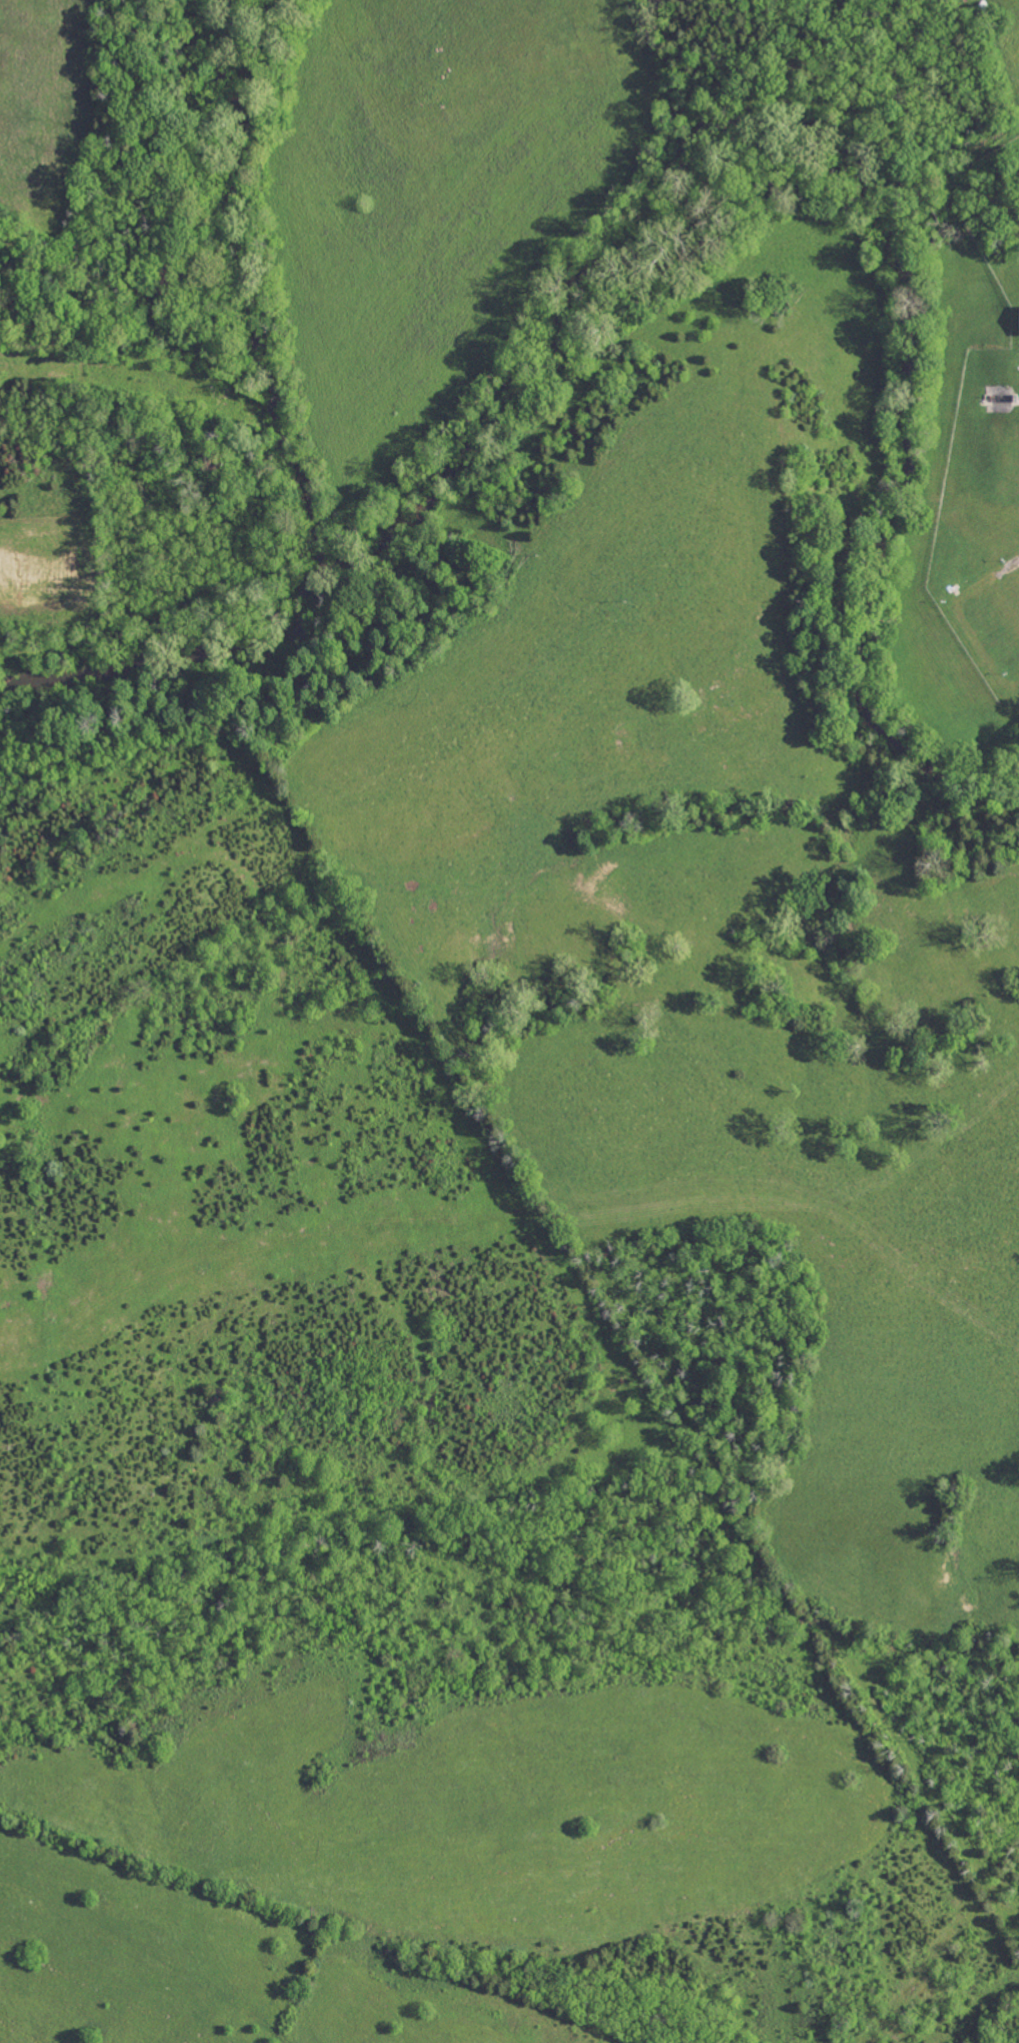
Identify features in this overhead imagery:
wastewater plant: (986, 448)
road: (1016, 560)

